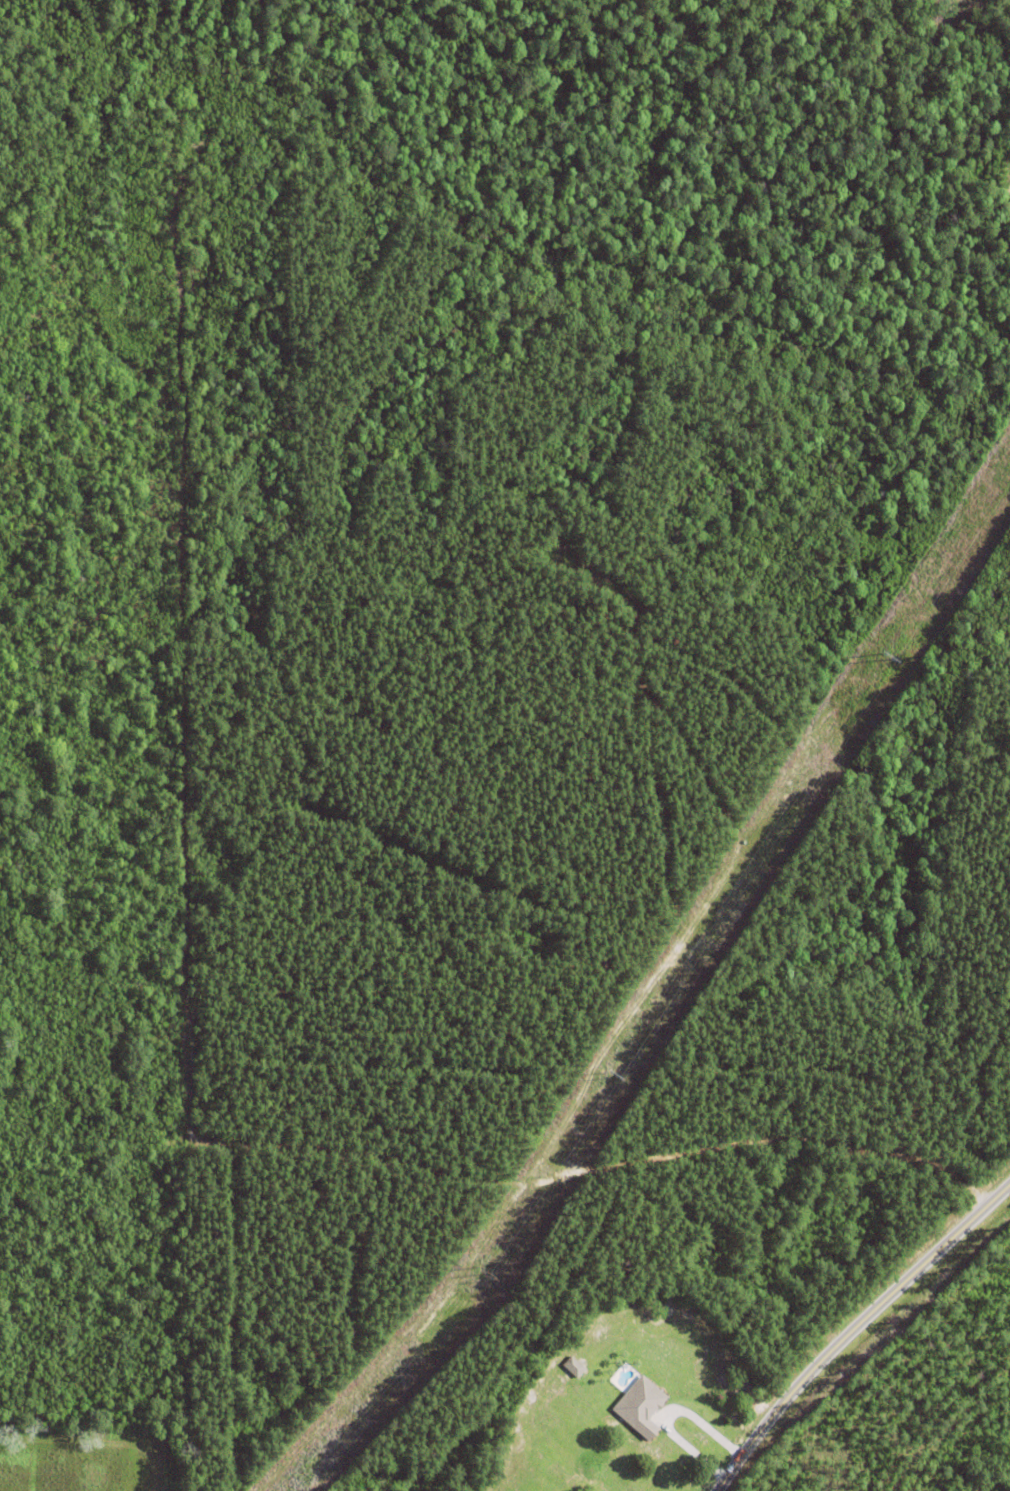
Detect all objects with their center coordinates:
building: (646, 605)
road: (854, 1329)
building: (577, 1369)
building: (641, 1406)
road: (668, 1415)

